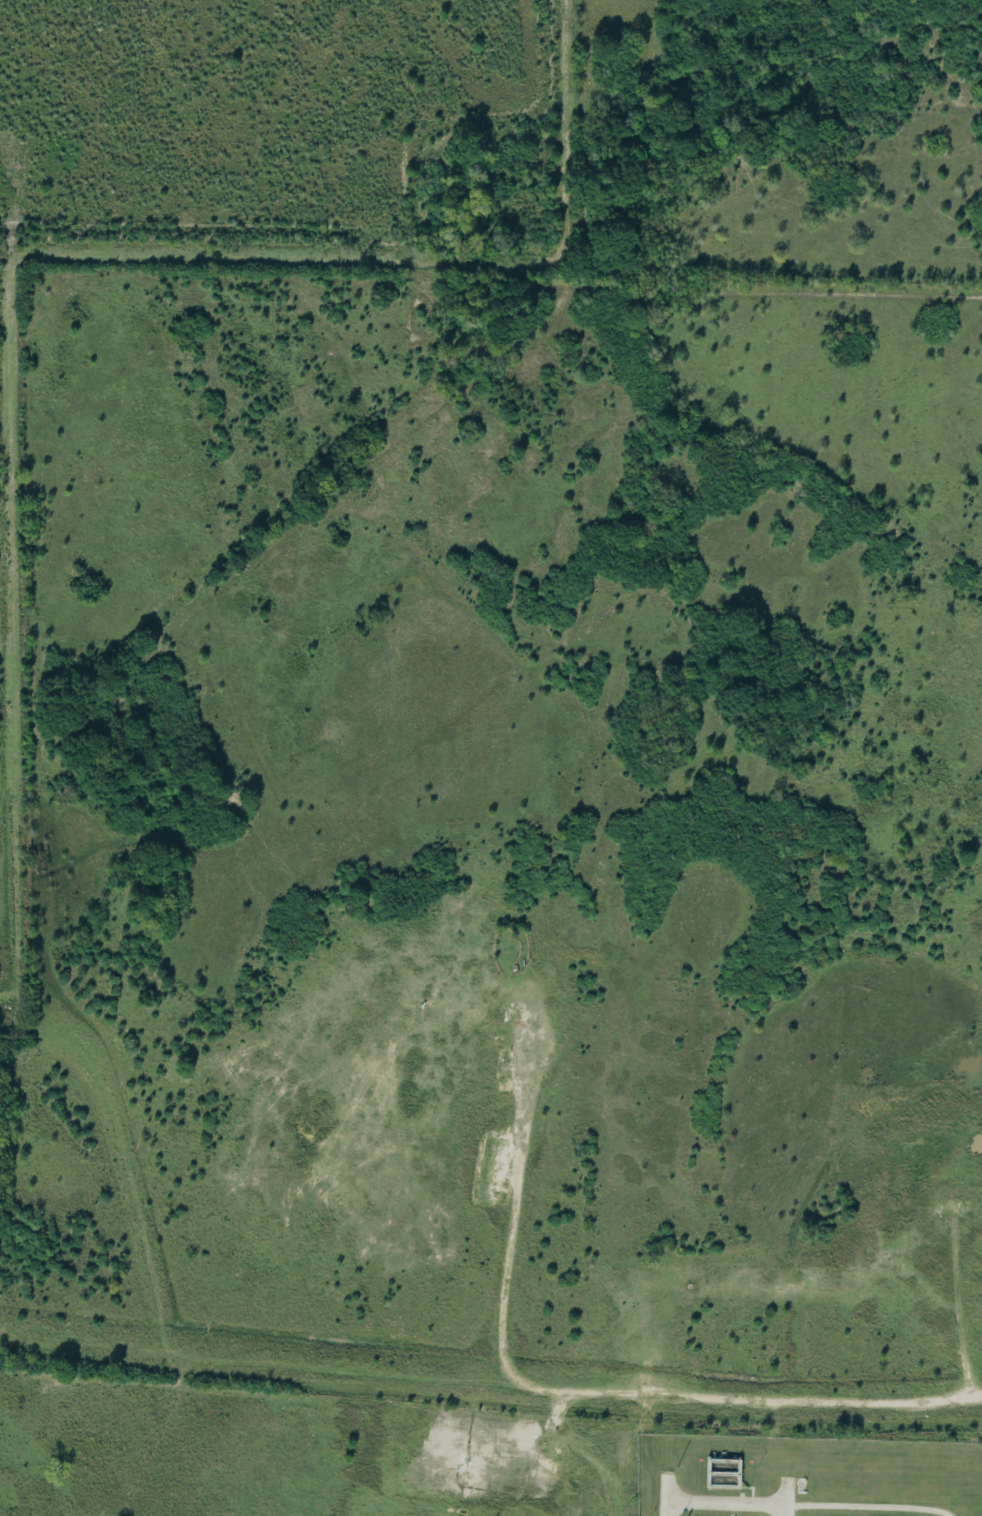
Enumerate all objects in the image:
road: (763, 1398)
road: (726, 1502)
road: (859, 1505)
road: (666, 1515)

